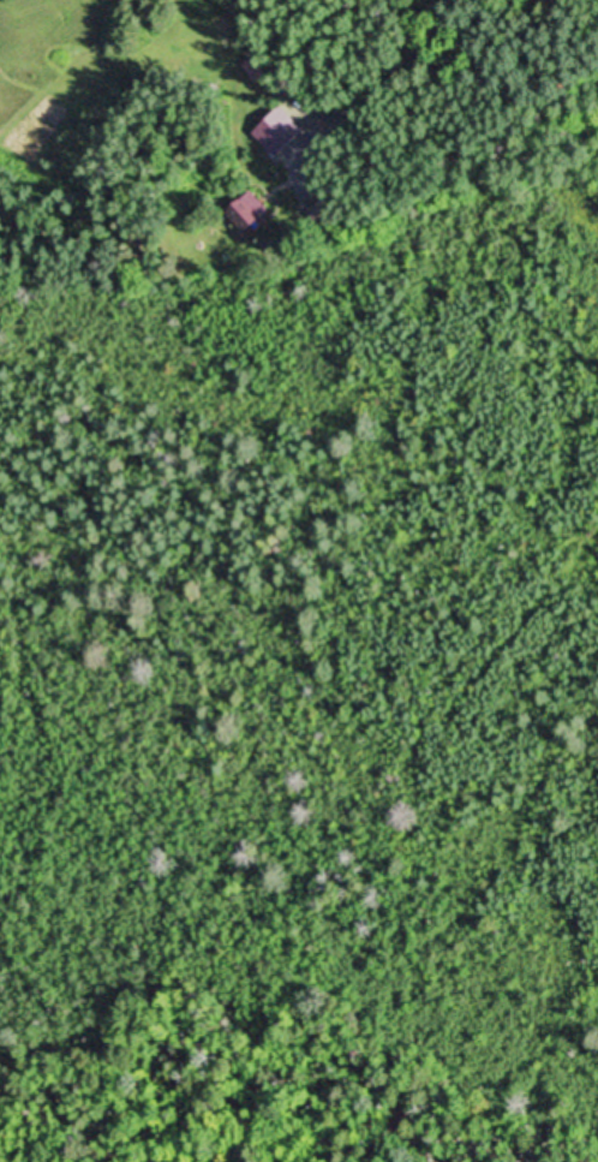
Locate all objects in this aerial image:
road: (394, 94)
building: (249, 210)

